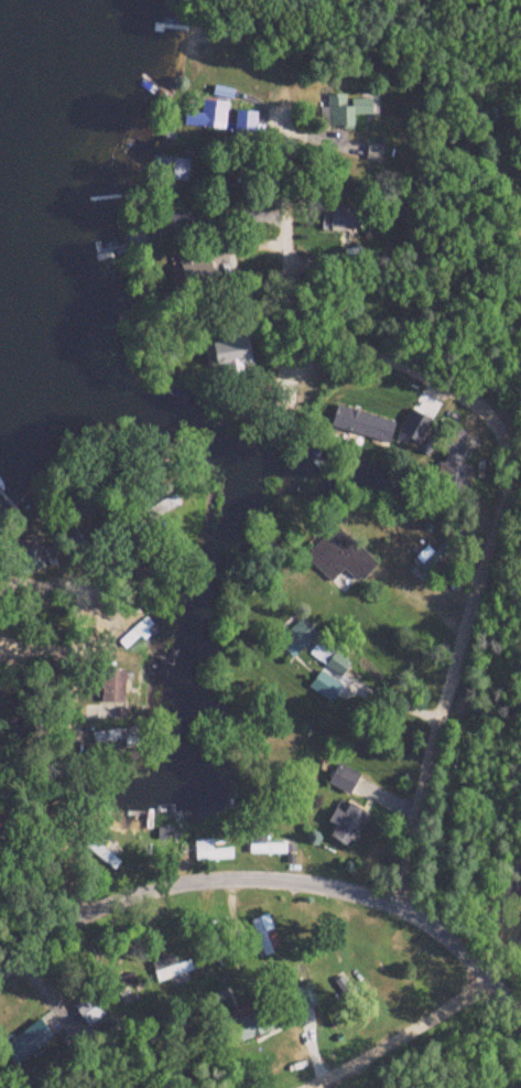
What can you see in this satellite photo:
park: (460, 35)
building: (347, 111)
building: (216, 115)
building: (246, 120)
building: (170, 169)
building: (176, 223)
building: (453, 459)
road: (496, 465)
road: (54, 733)
building: (348, 826)
building: (268, 849)
building: (208, 852)
road: (181, 853)
road: (456, 928)
building: (88, 1011)
road: (362, 1022)
building: (29, 1041)
road: (276, 1082)

